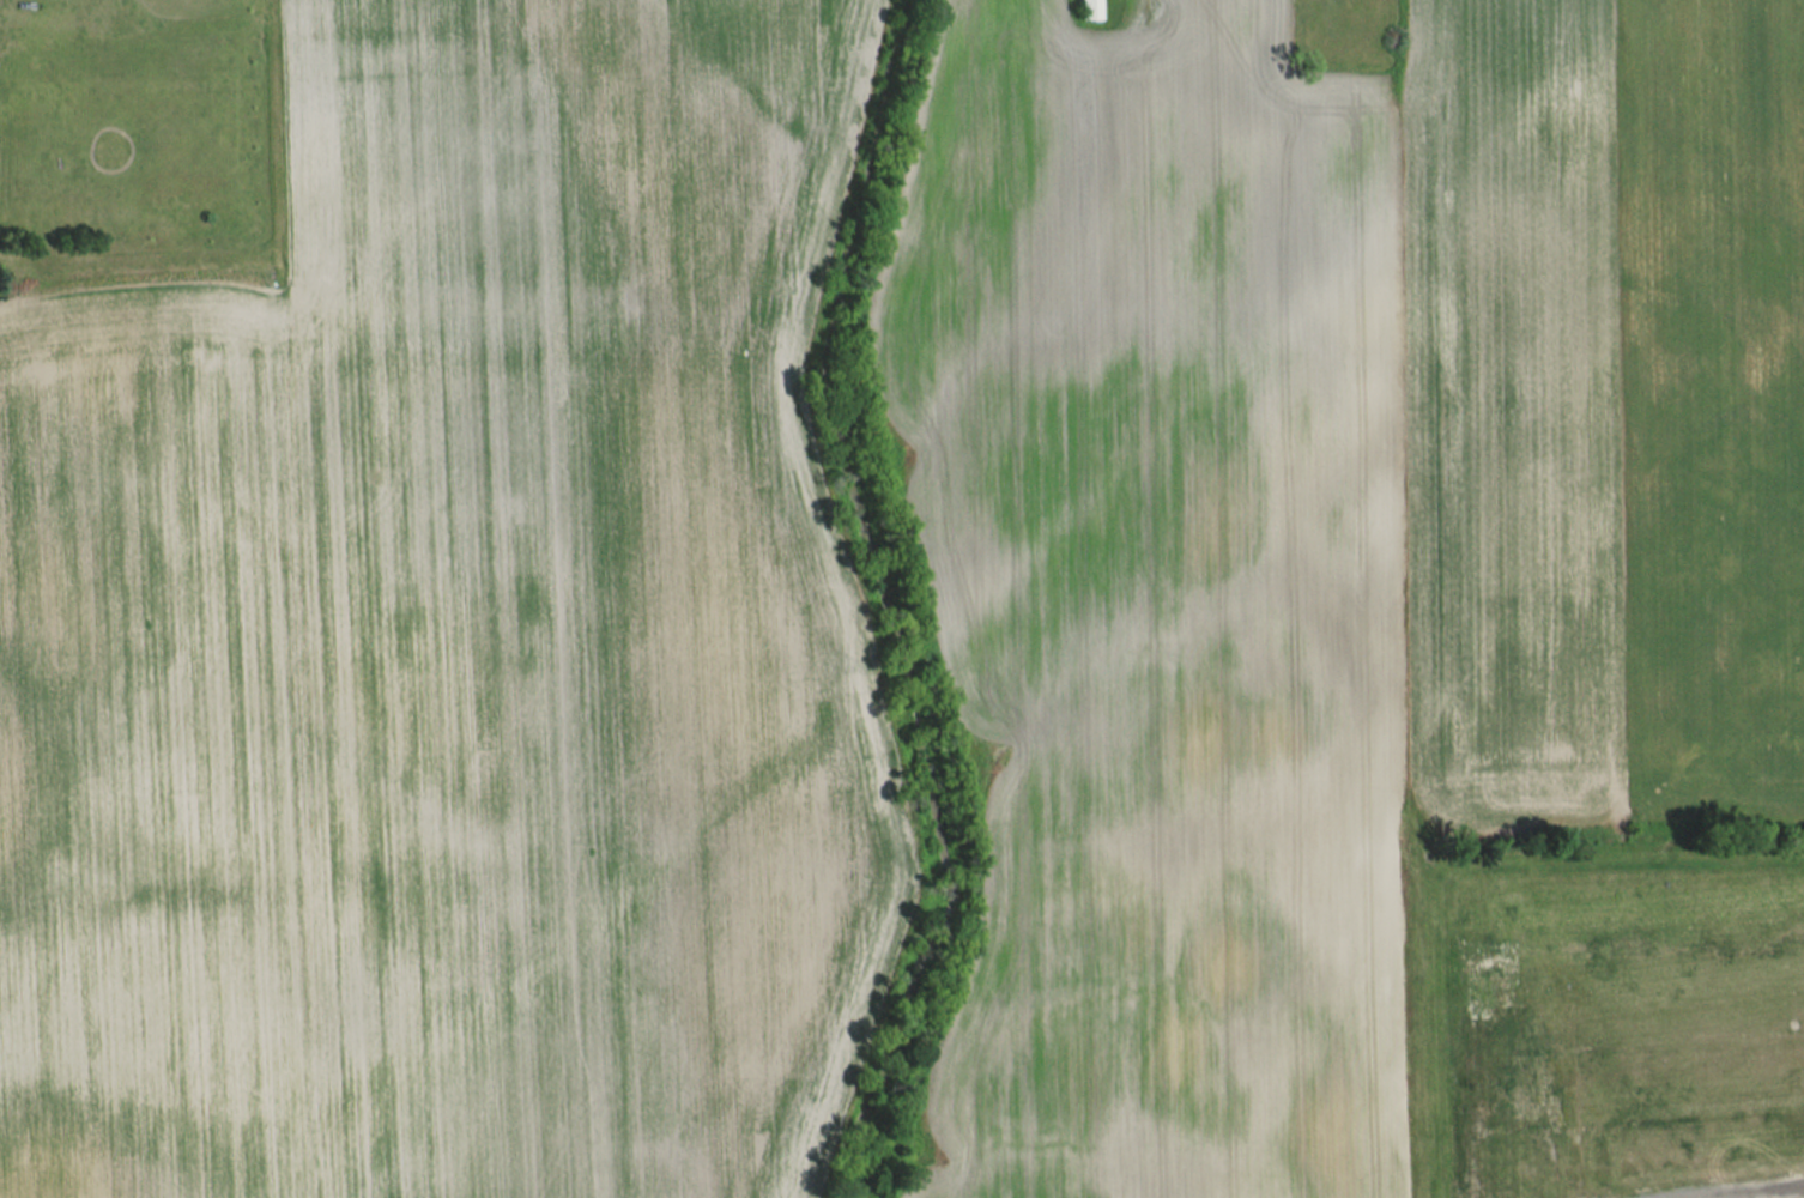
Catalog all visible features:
building: (1089, 10)
crop: (1512, 409)
crop: (1158, 593)
crop: (454, 642)
road: (1770, 1194)

